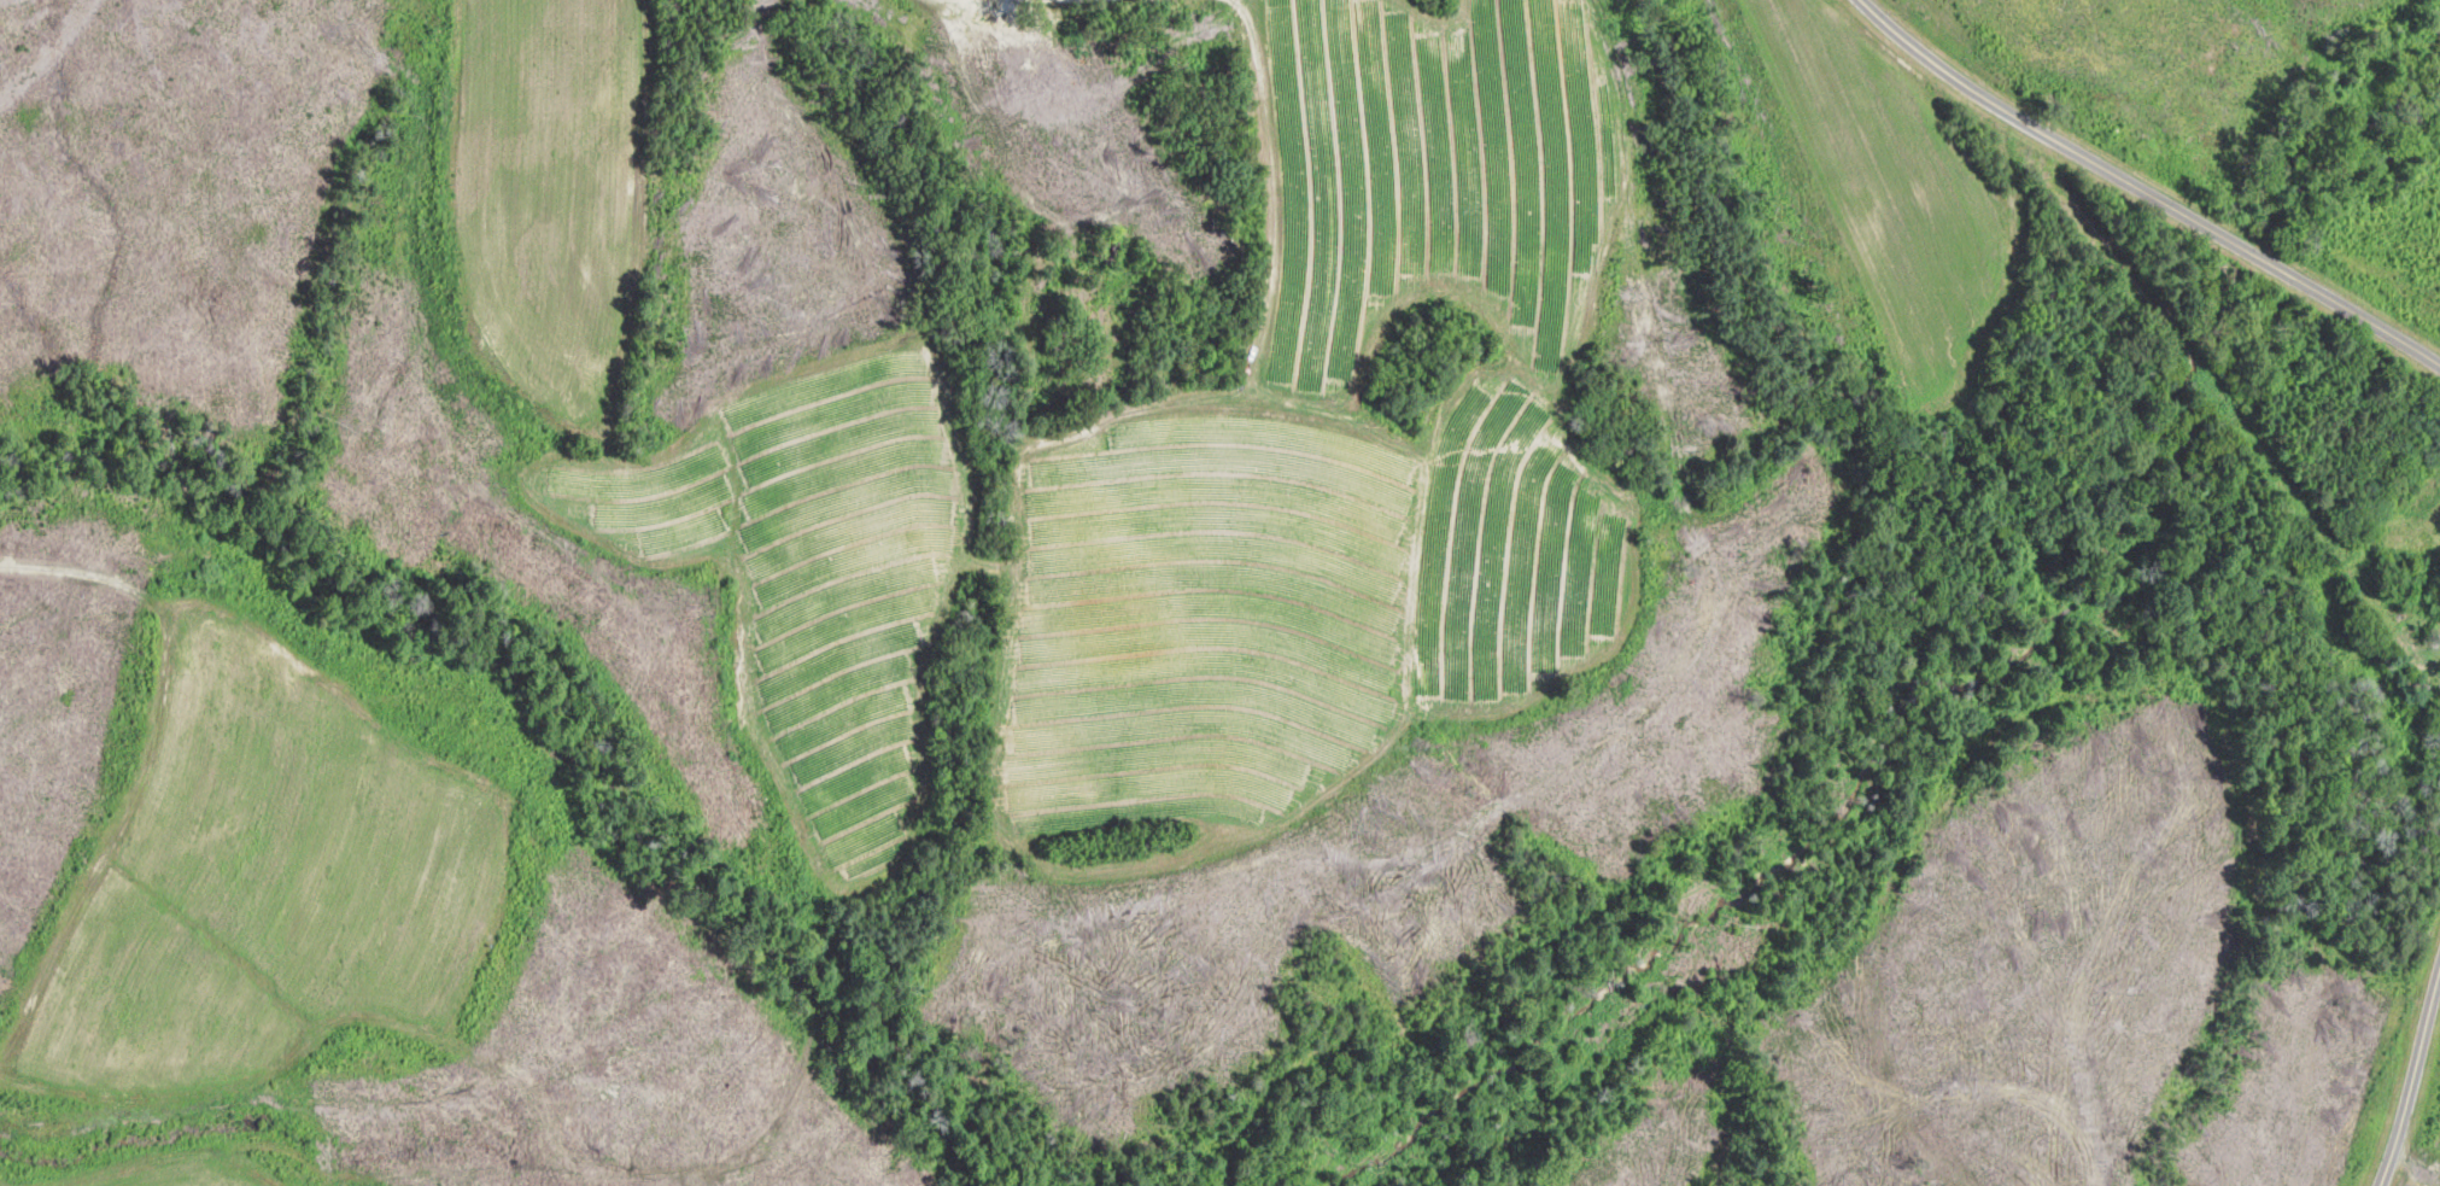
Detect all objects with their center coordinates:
road: (2147, 189)
road: (2412, 1074)

